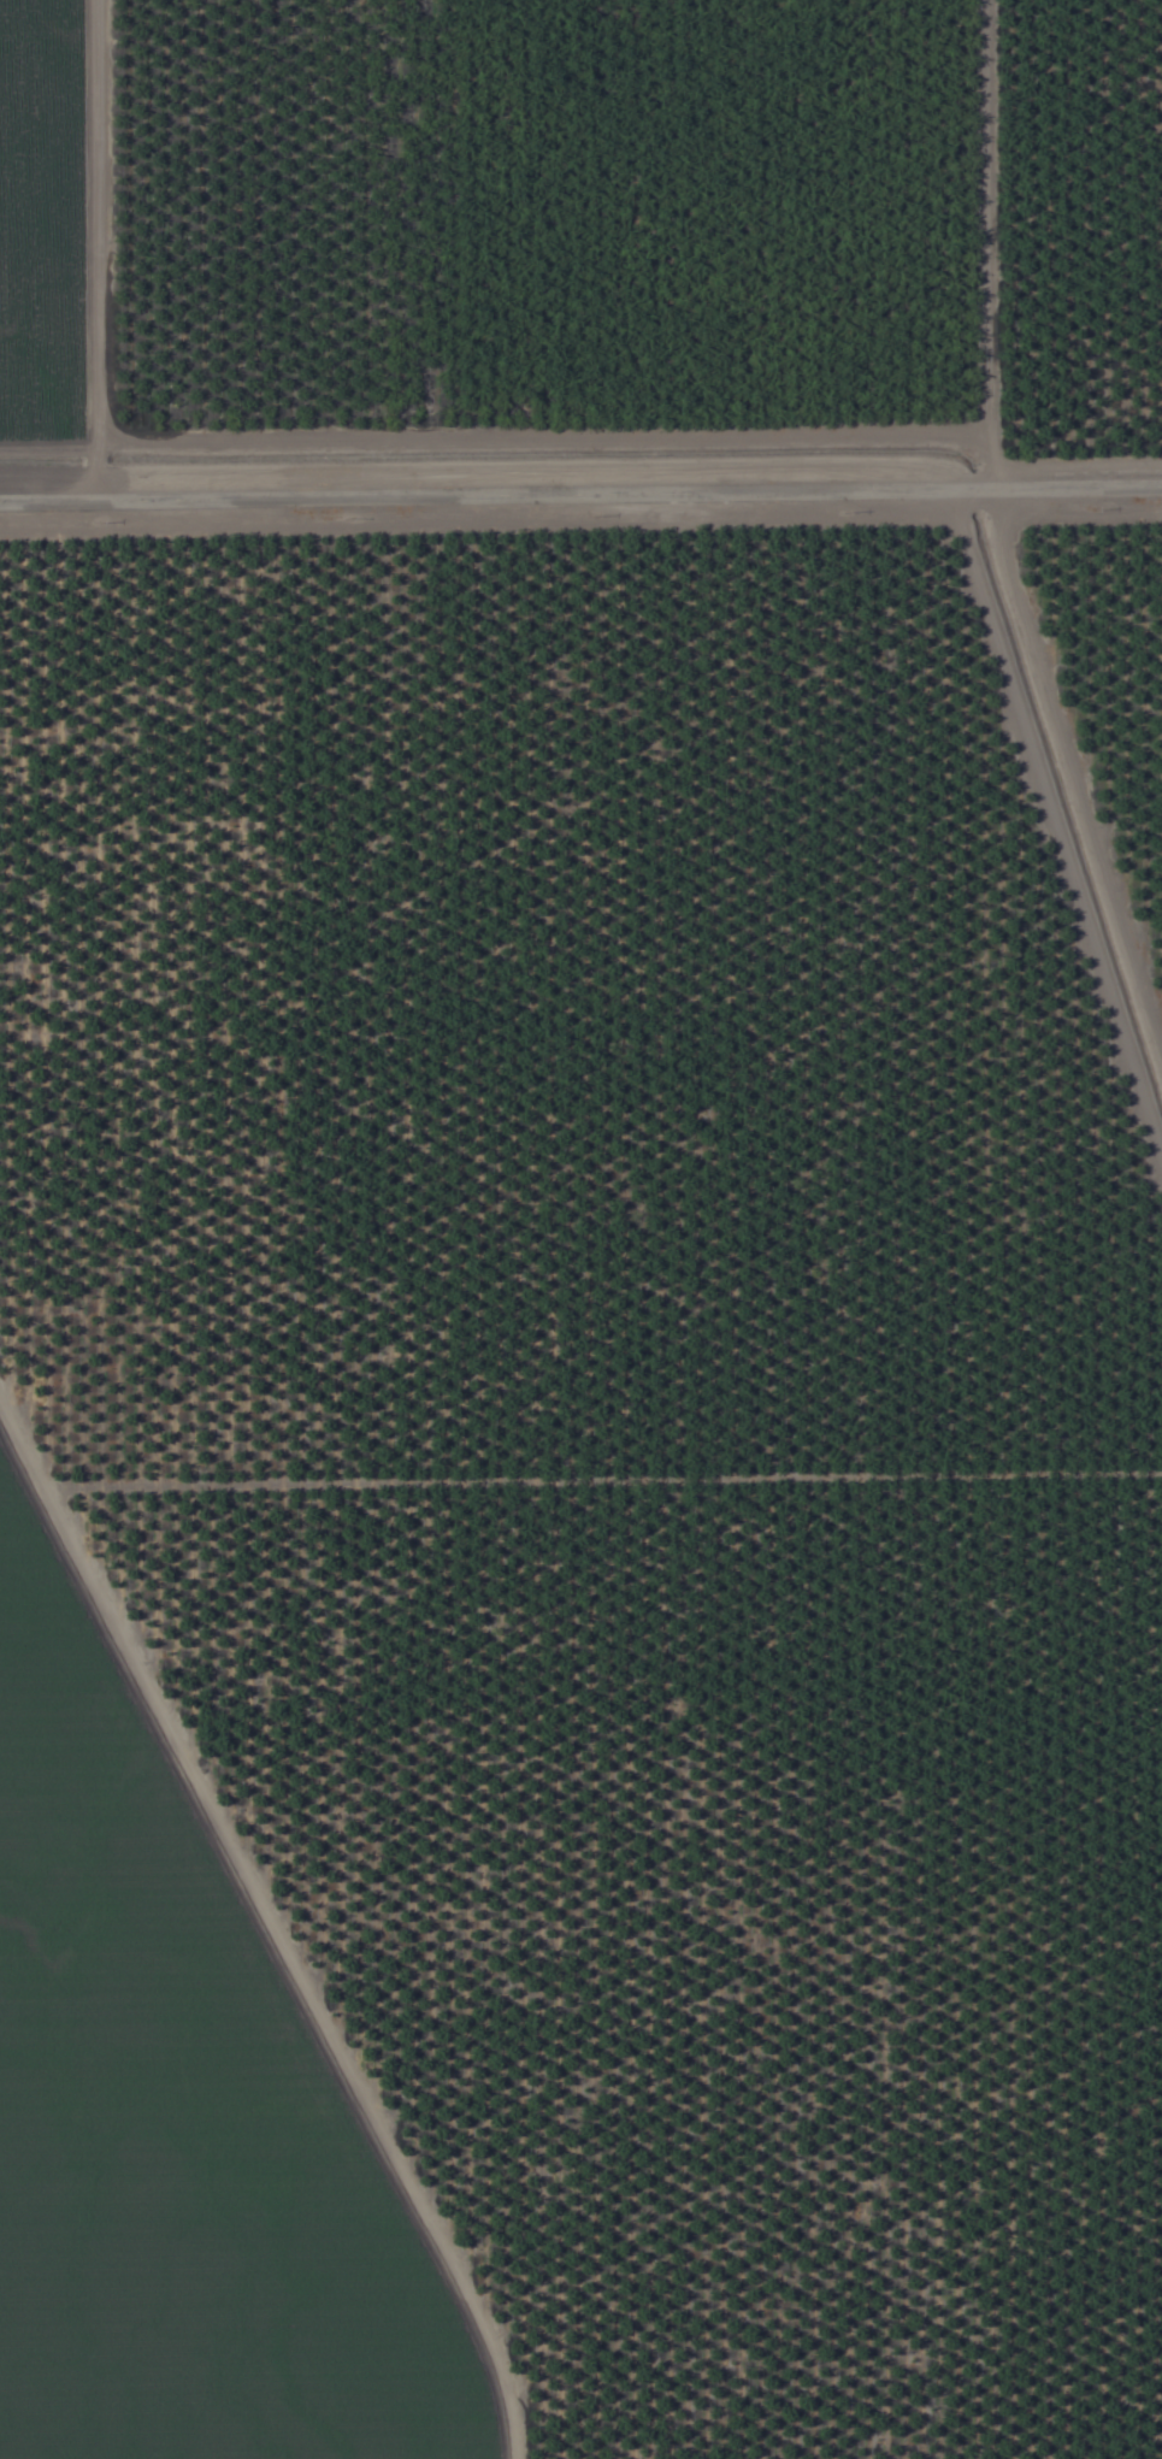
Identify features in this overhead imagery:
road: (580, 484)
crop: (580, 1229)
building: (926, 1579)

